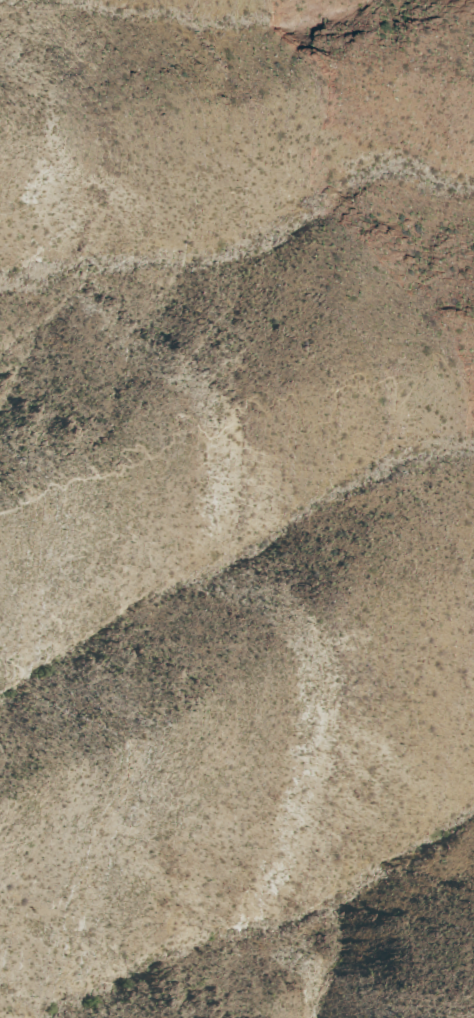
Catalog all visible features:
road: (251, 401)
road: (473, 403)

